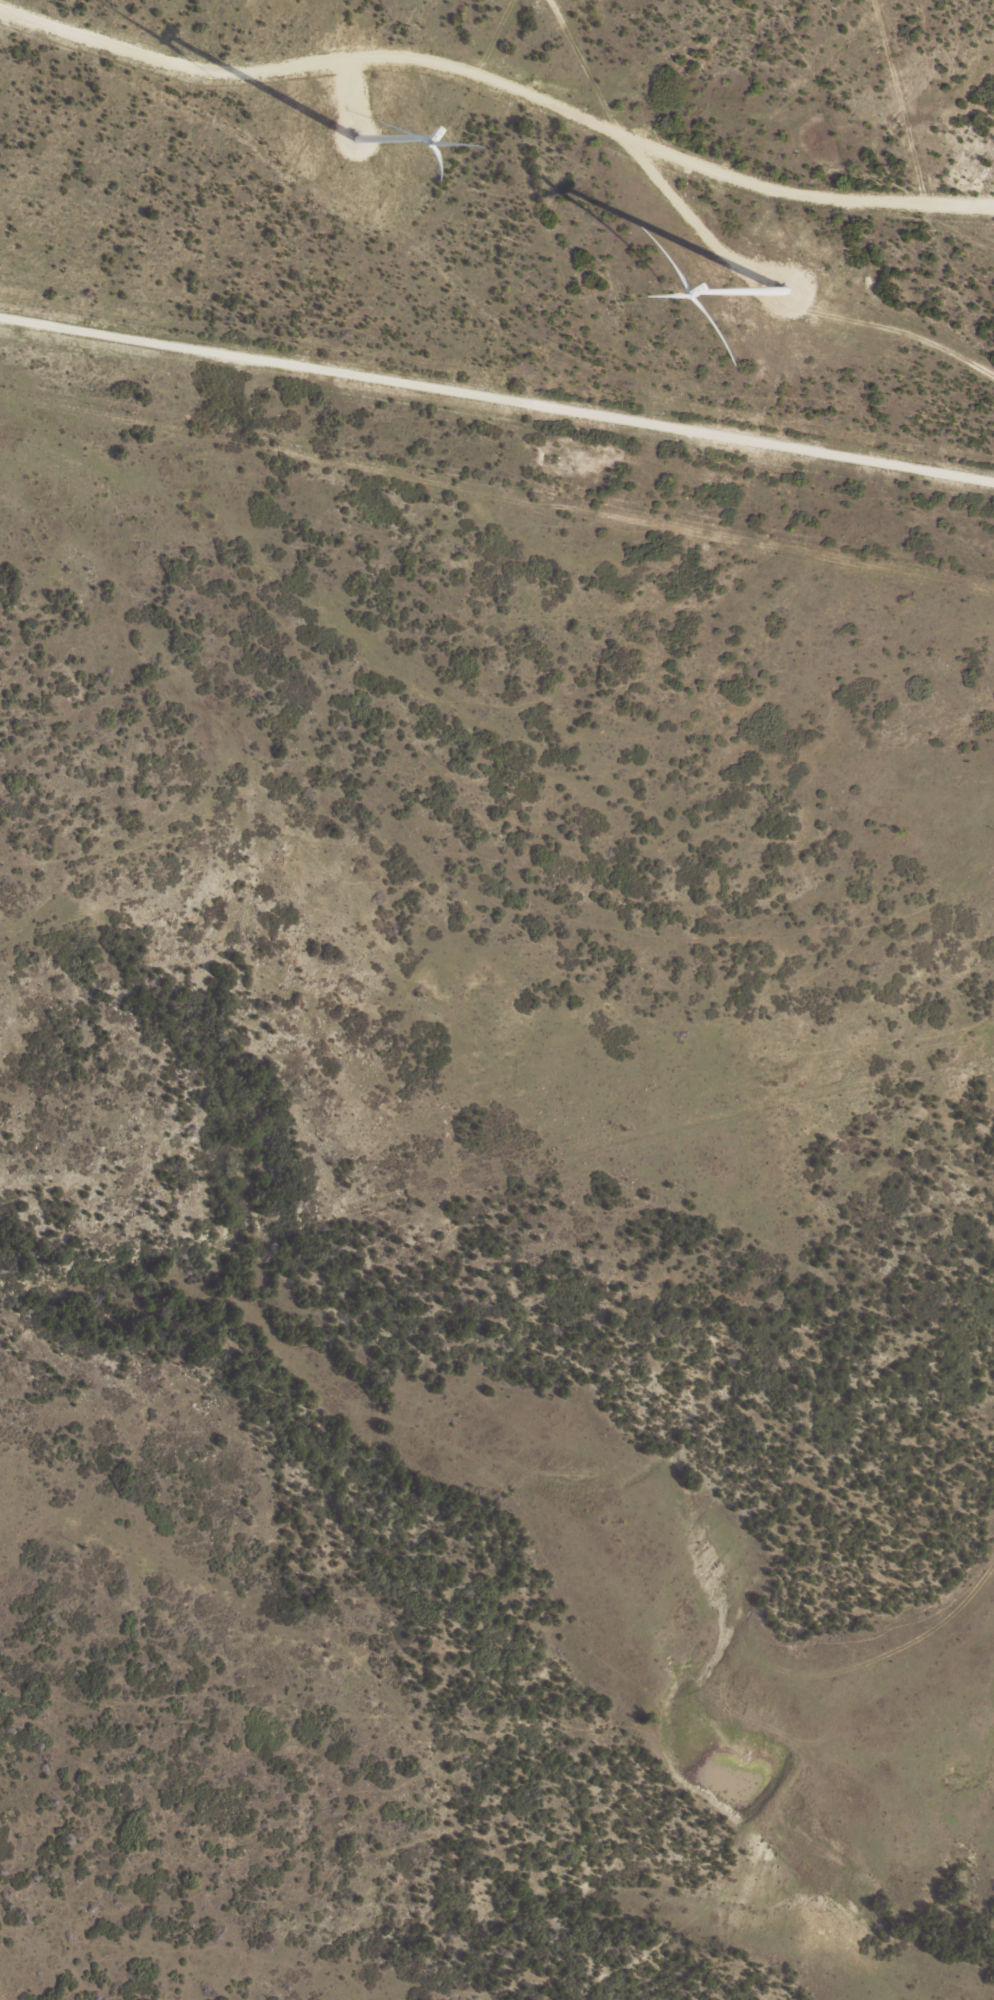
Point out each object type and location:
road: (500, 82)
wind turbine: (354, 140)
wind turbine: (787, 287)
road: (497, 397)

